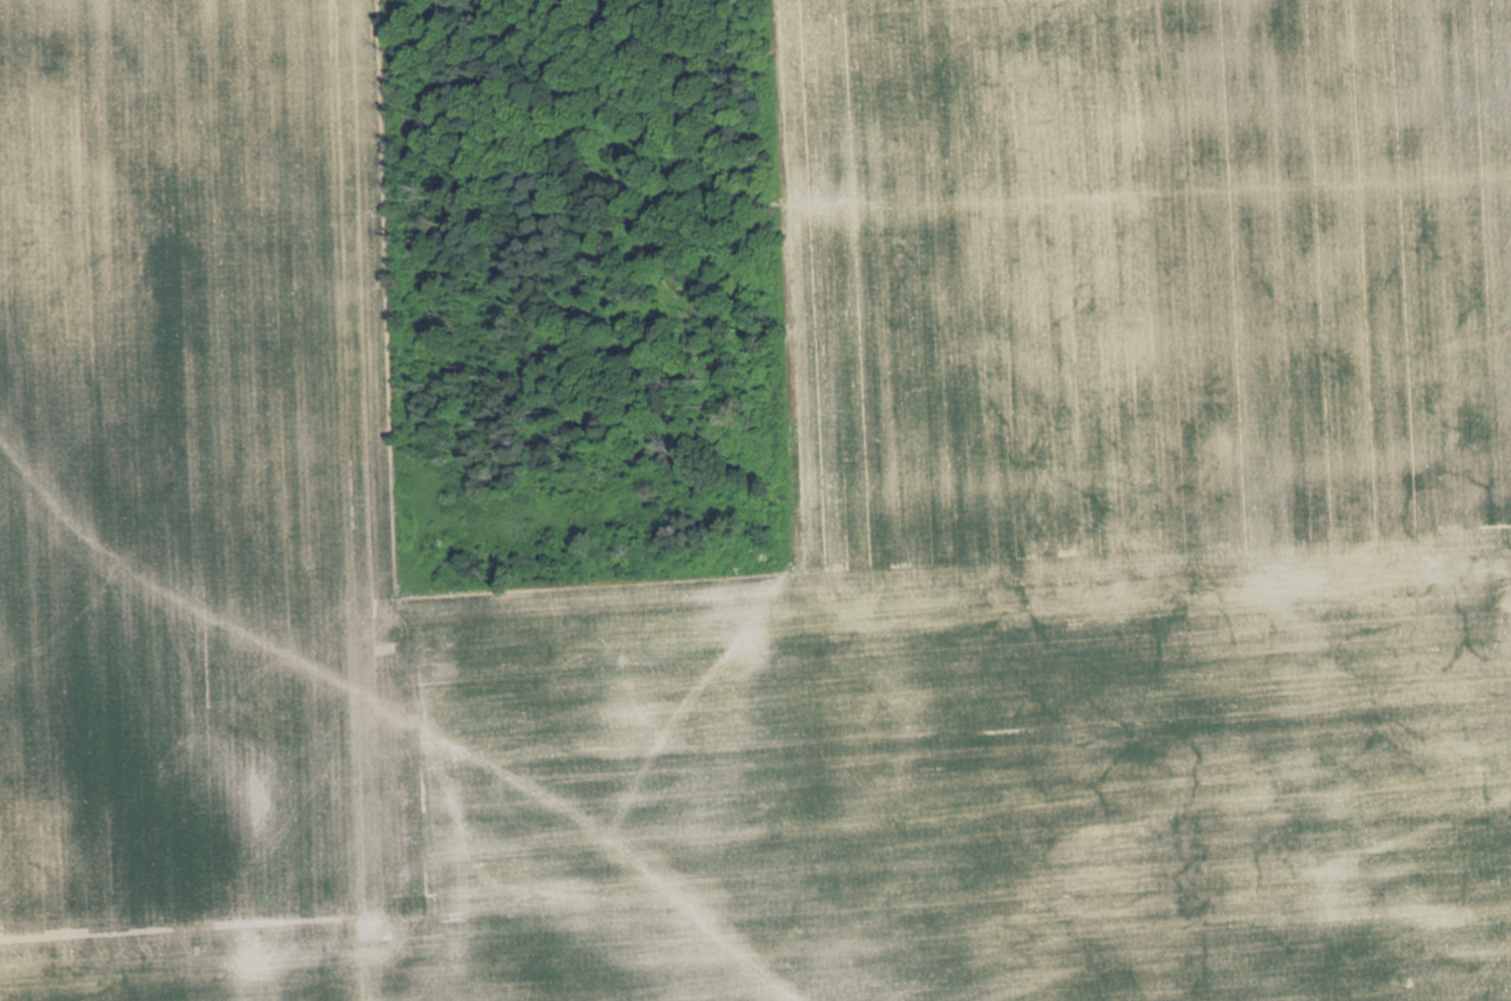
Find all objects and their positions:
building: (1504, 630)

